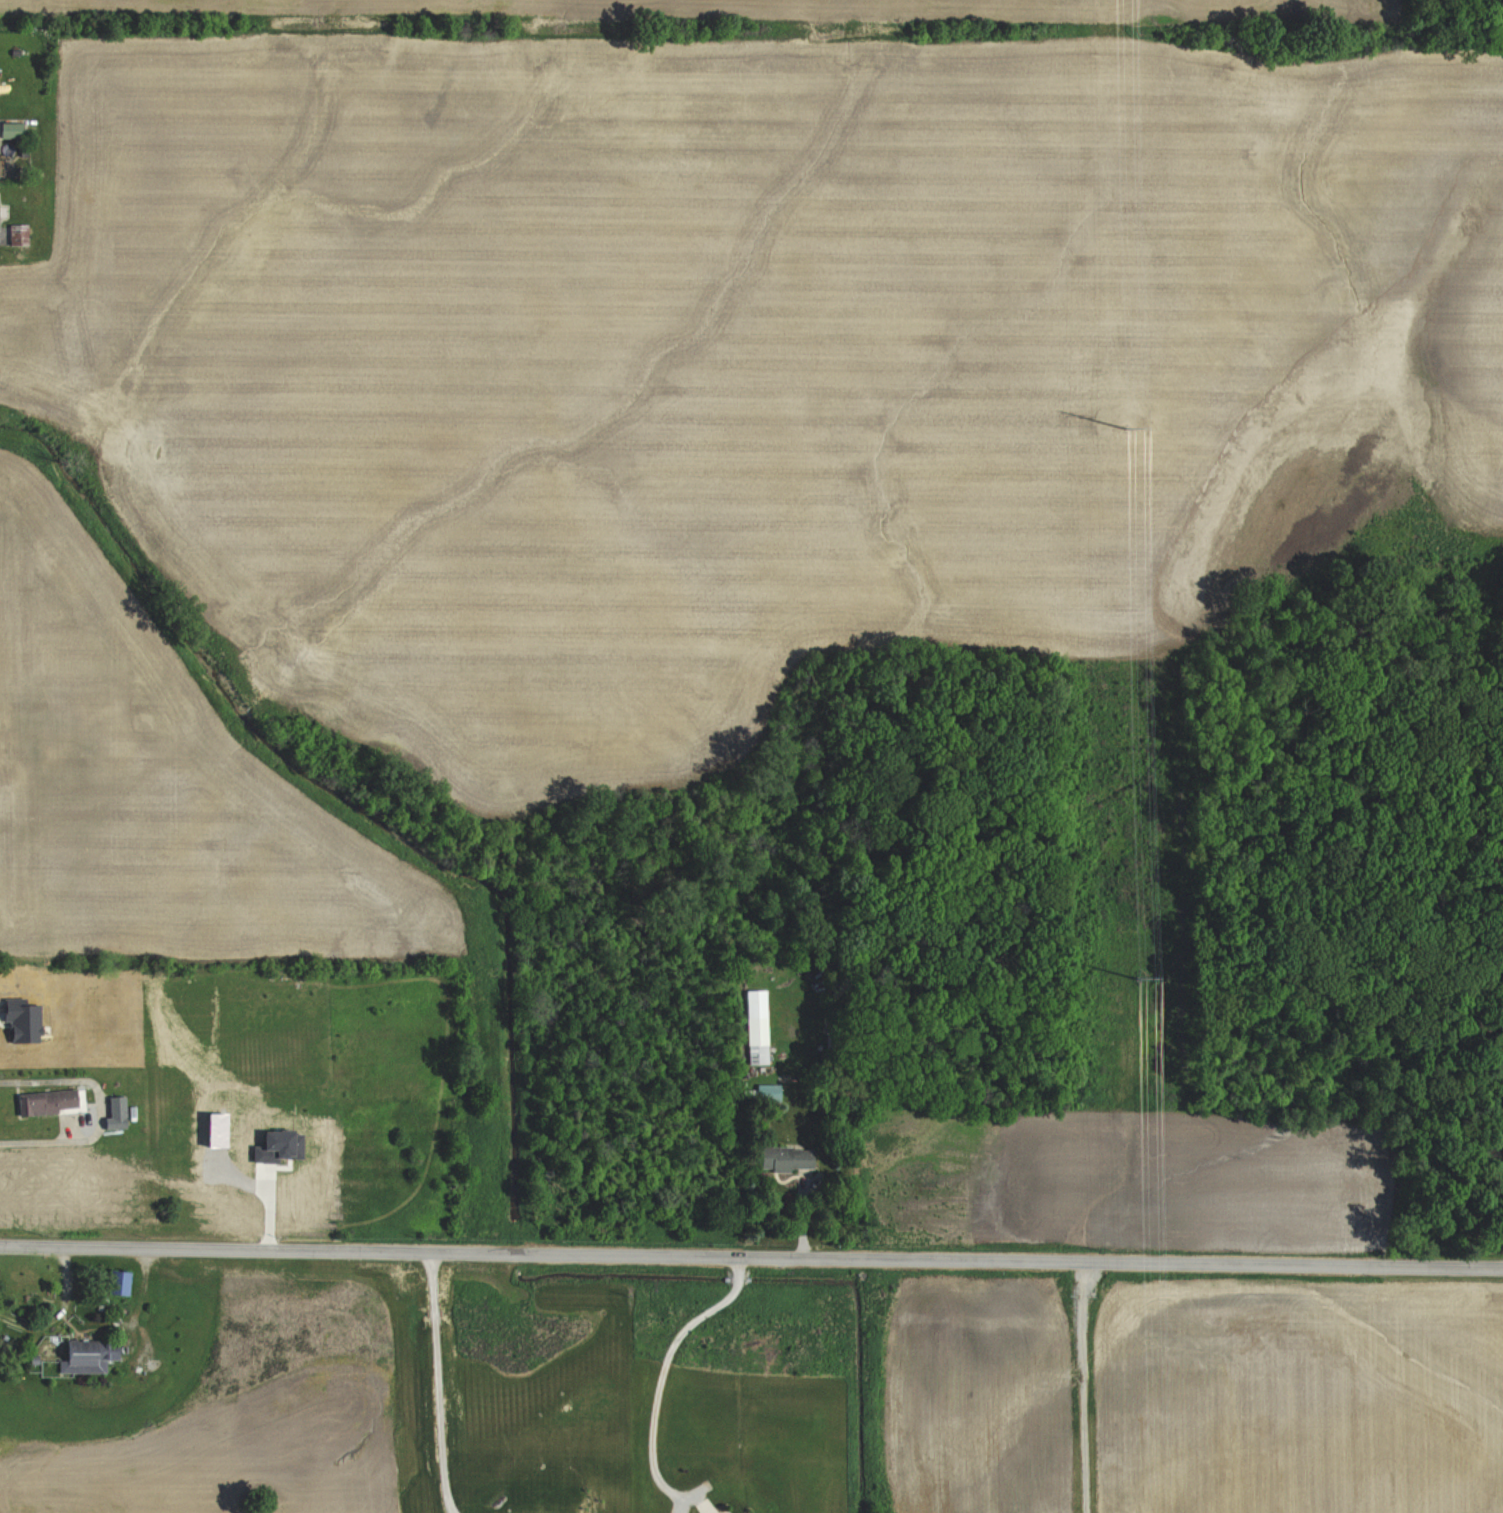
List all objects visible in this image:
building: (13, 129)
building: (0, 173)
building: (0, 211)
building: (19, 235)
power tower: (1127, 428)
power tower: (1137, 978)
building: (758, 1027)
building: (771, 1092)
building: (49, 1101)
building: (118, 1112)
road: (42, 1144)
building: (790, 1159)
road: (751, 1247)
building: (124, 1281)
building: (92, 1355)
road: (667, 1365)
road: (440, 1378)

